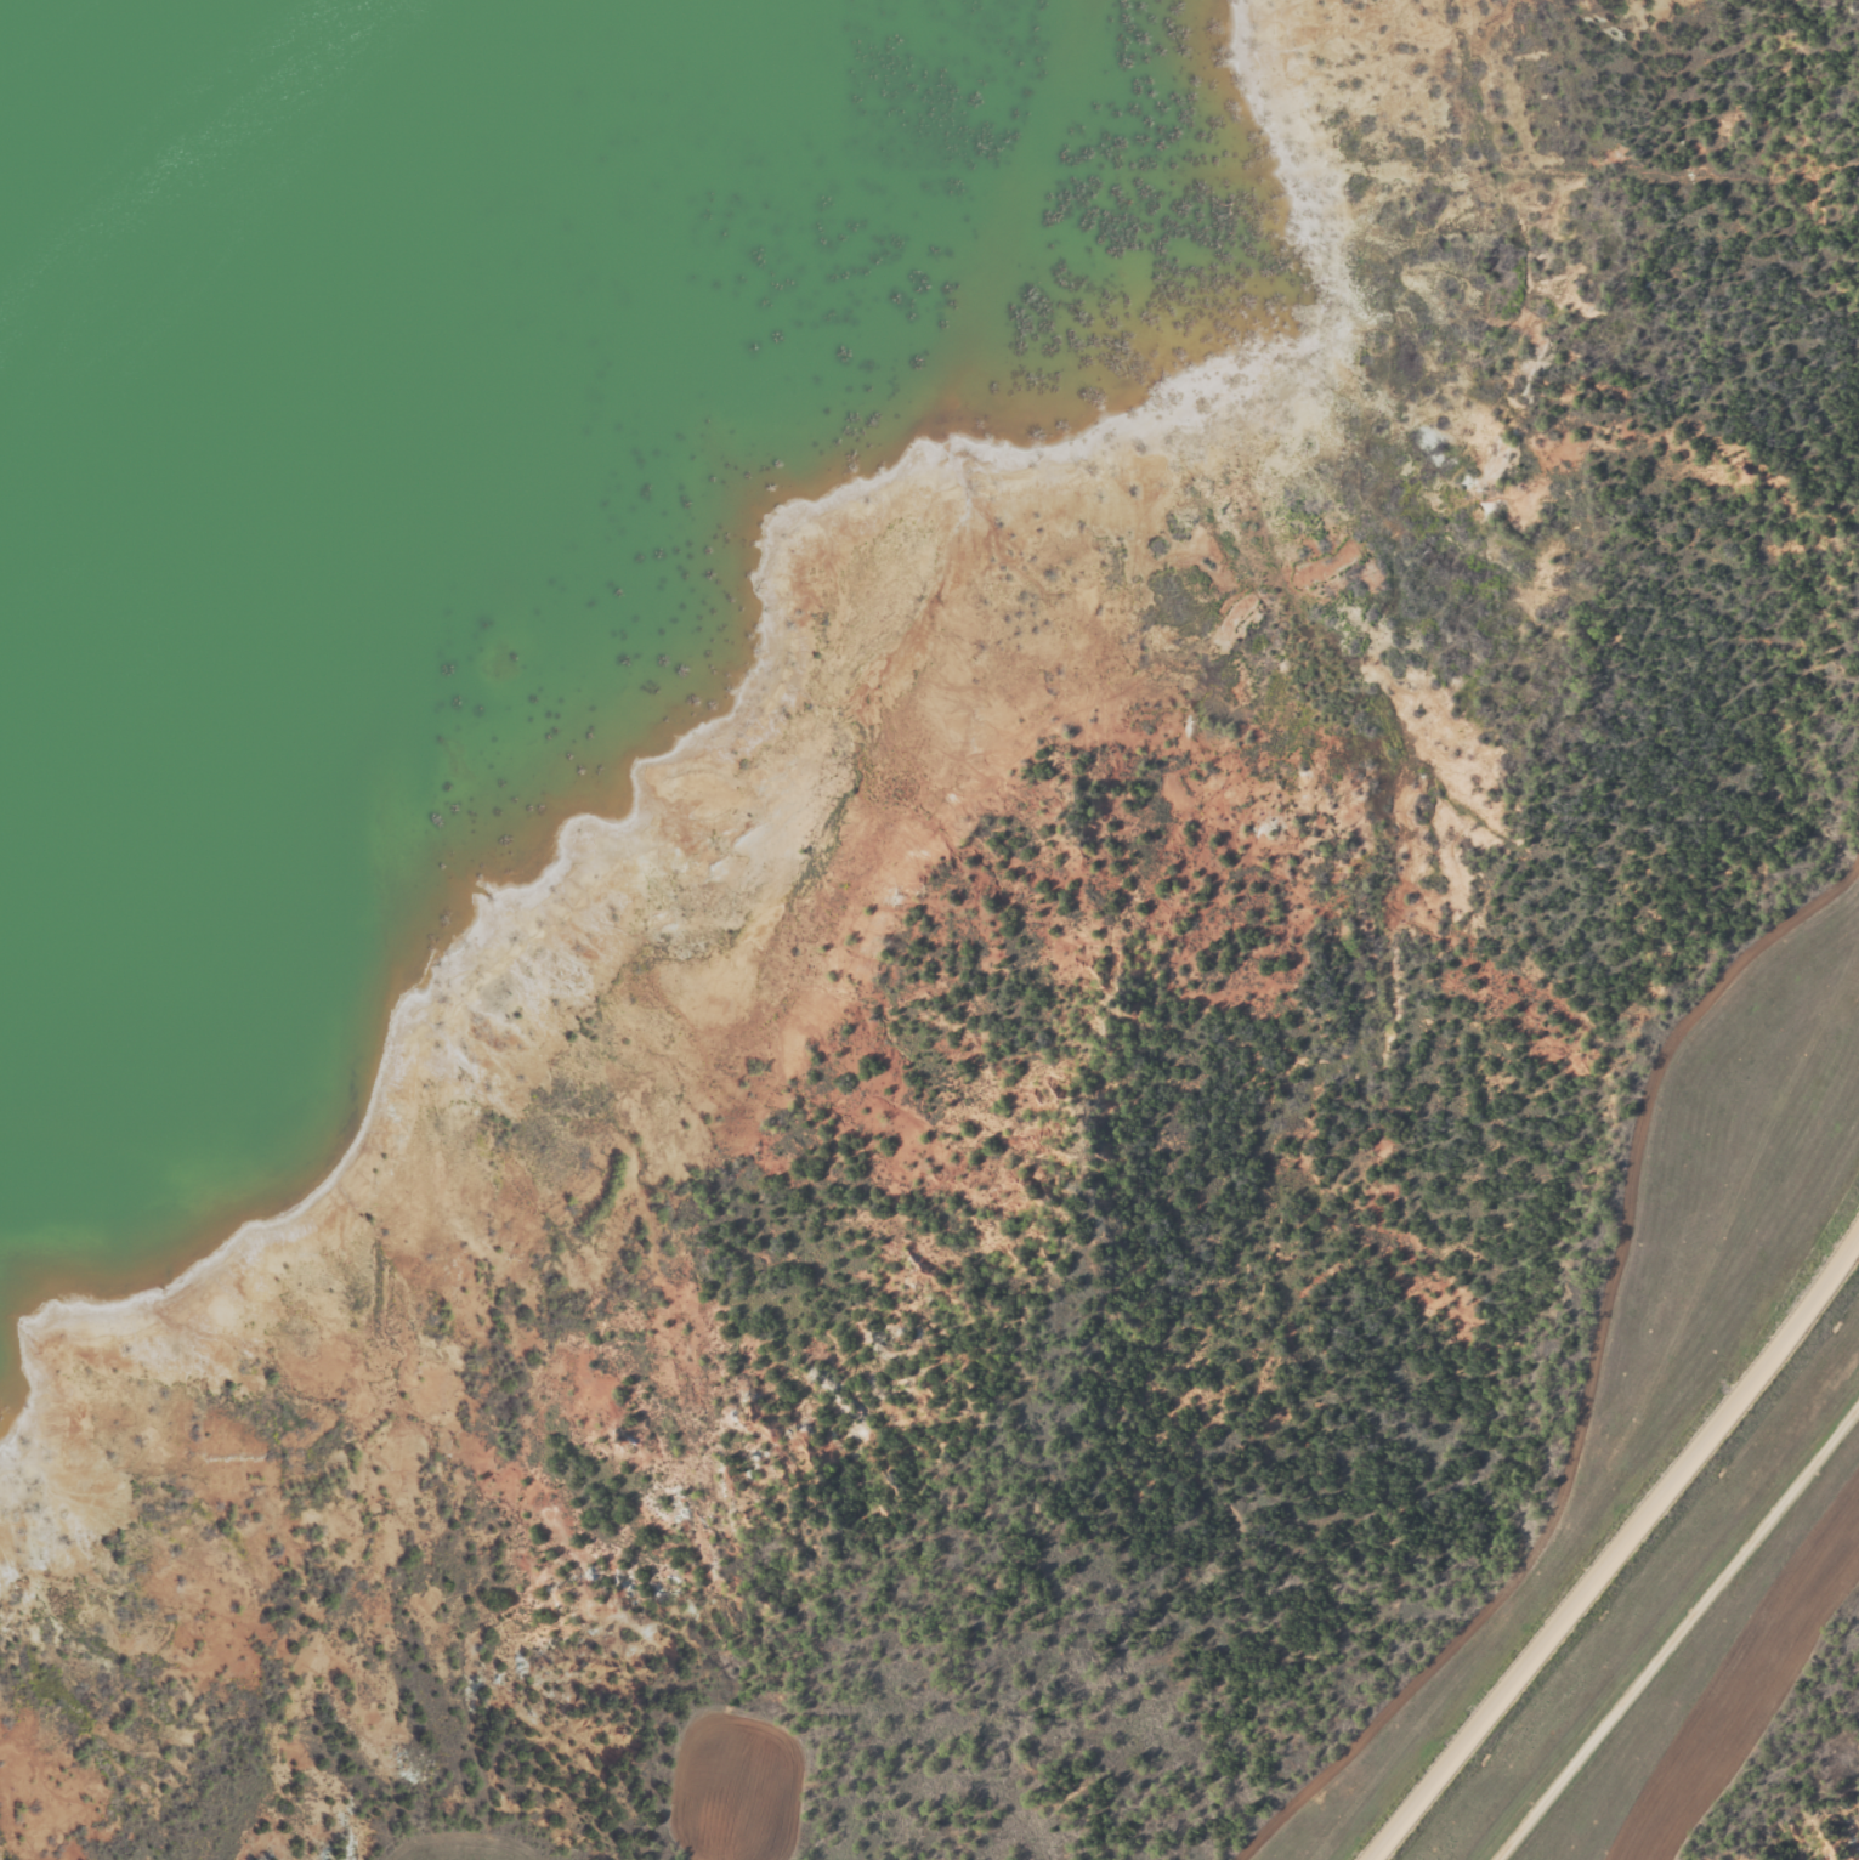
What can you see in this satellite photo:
road: (1619, 1544)

